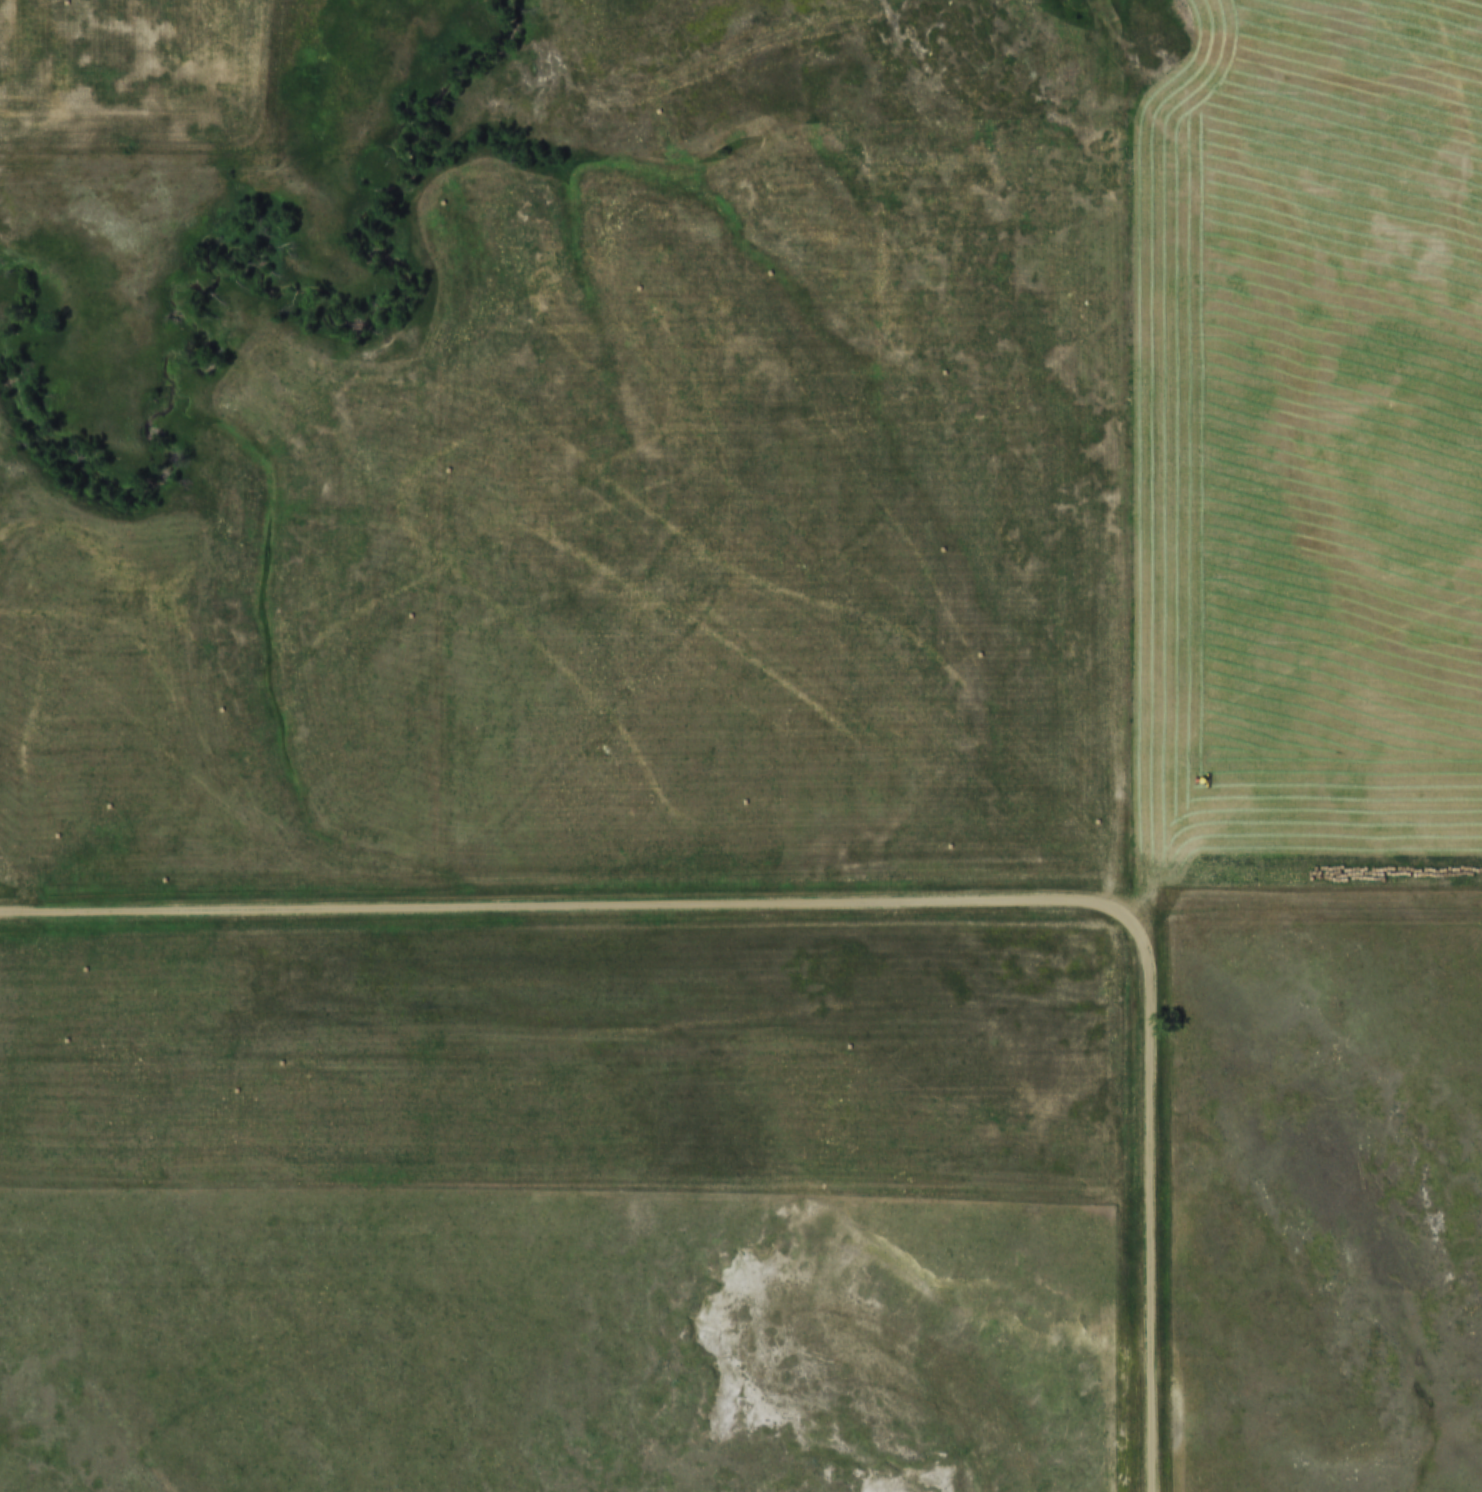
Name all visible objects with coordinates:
road: (573, 898)
road: (1144, 1194)

